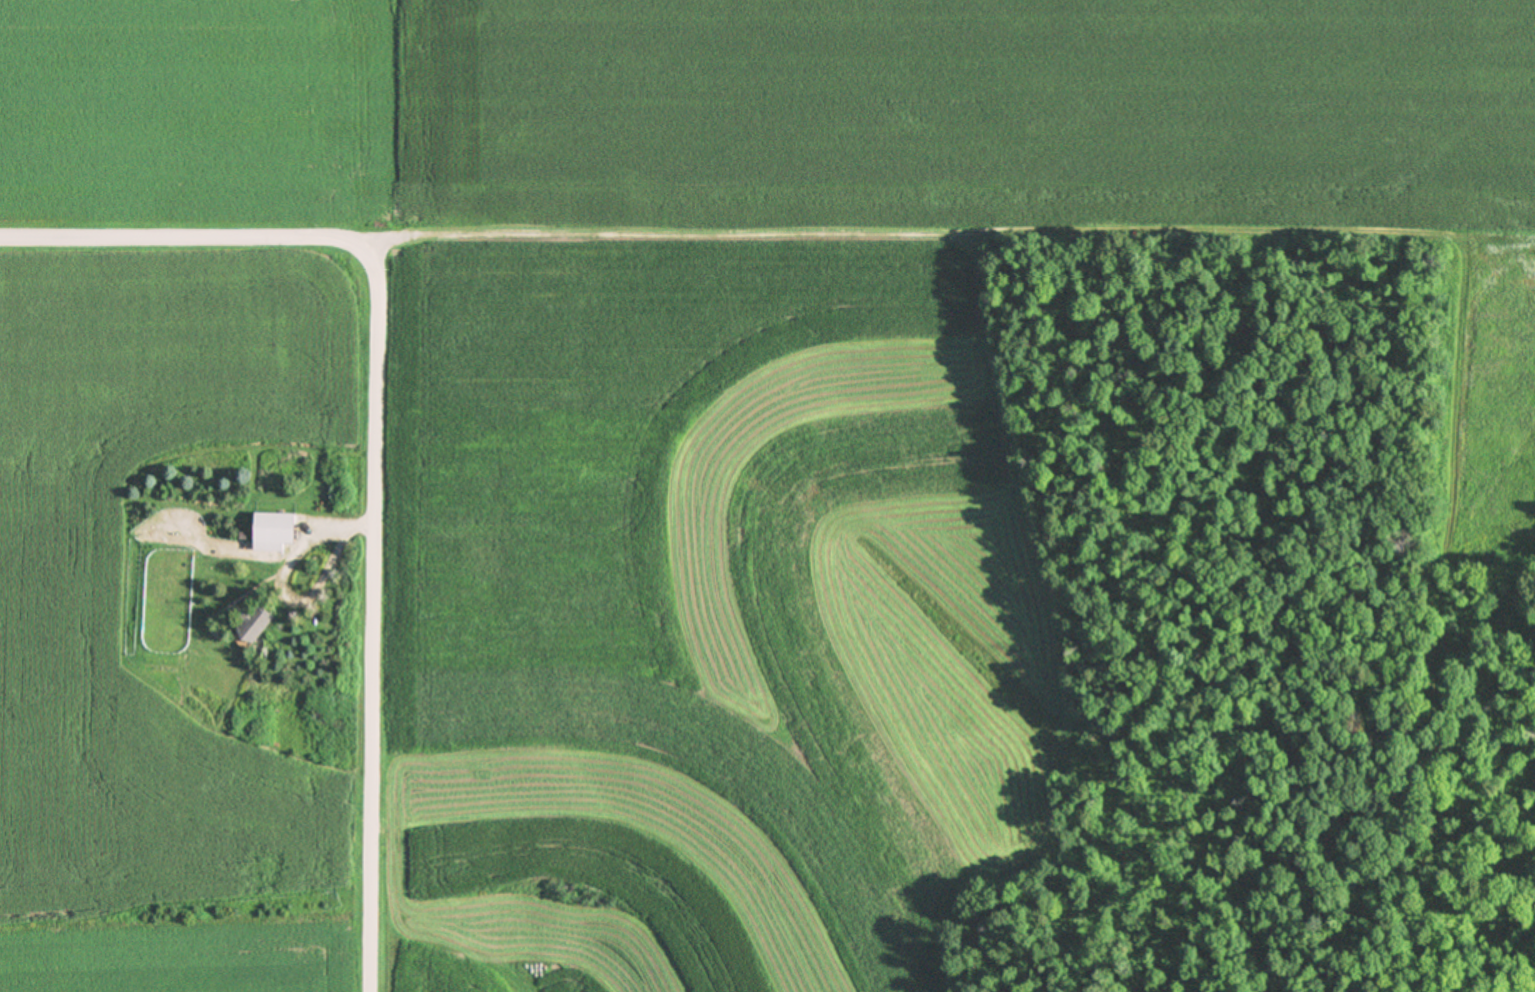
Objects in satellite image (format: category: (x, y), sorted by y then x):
road: (186, 239)
building: (277, 530)
road: (378, 617)
building: (257, 621)

